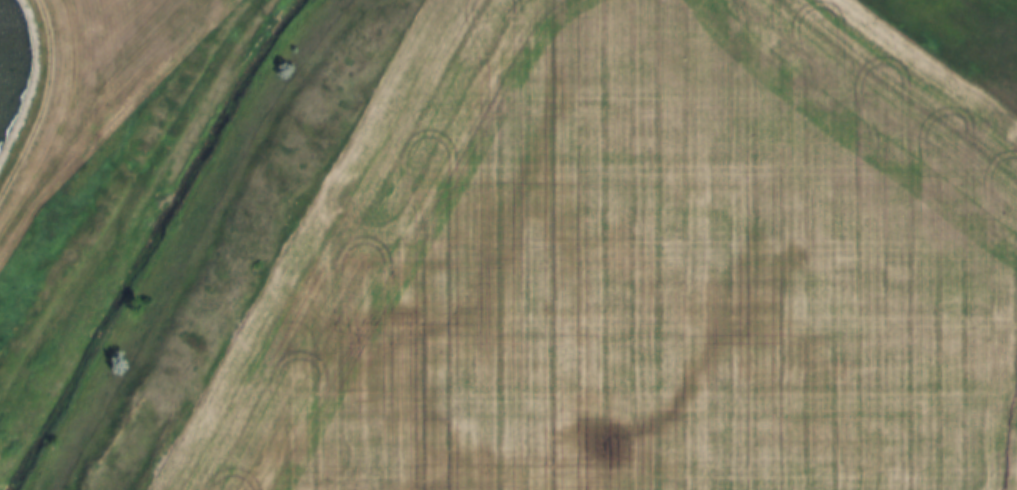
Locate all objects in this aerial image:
airport: (78, 79)
road: (39, 95)

